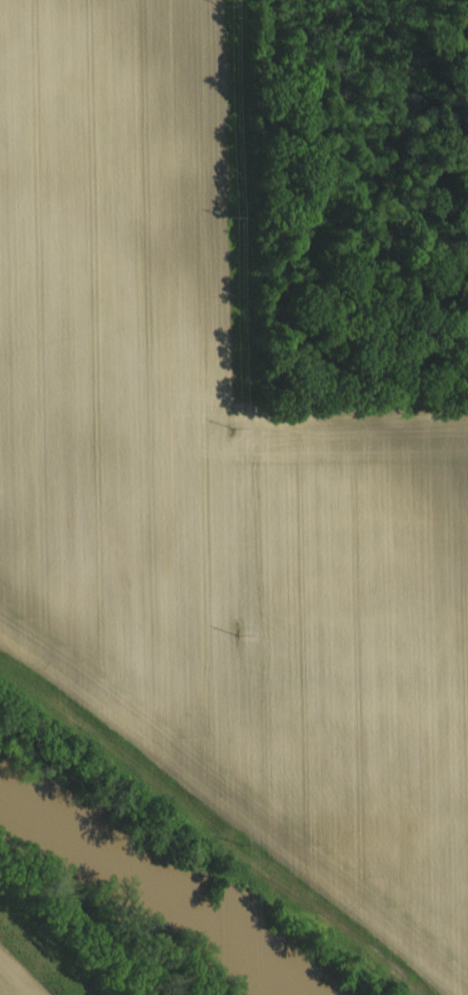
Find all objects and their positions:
river: (144, 889)

